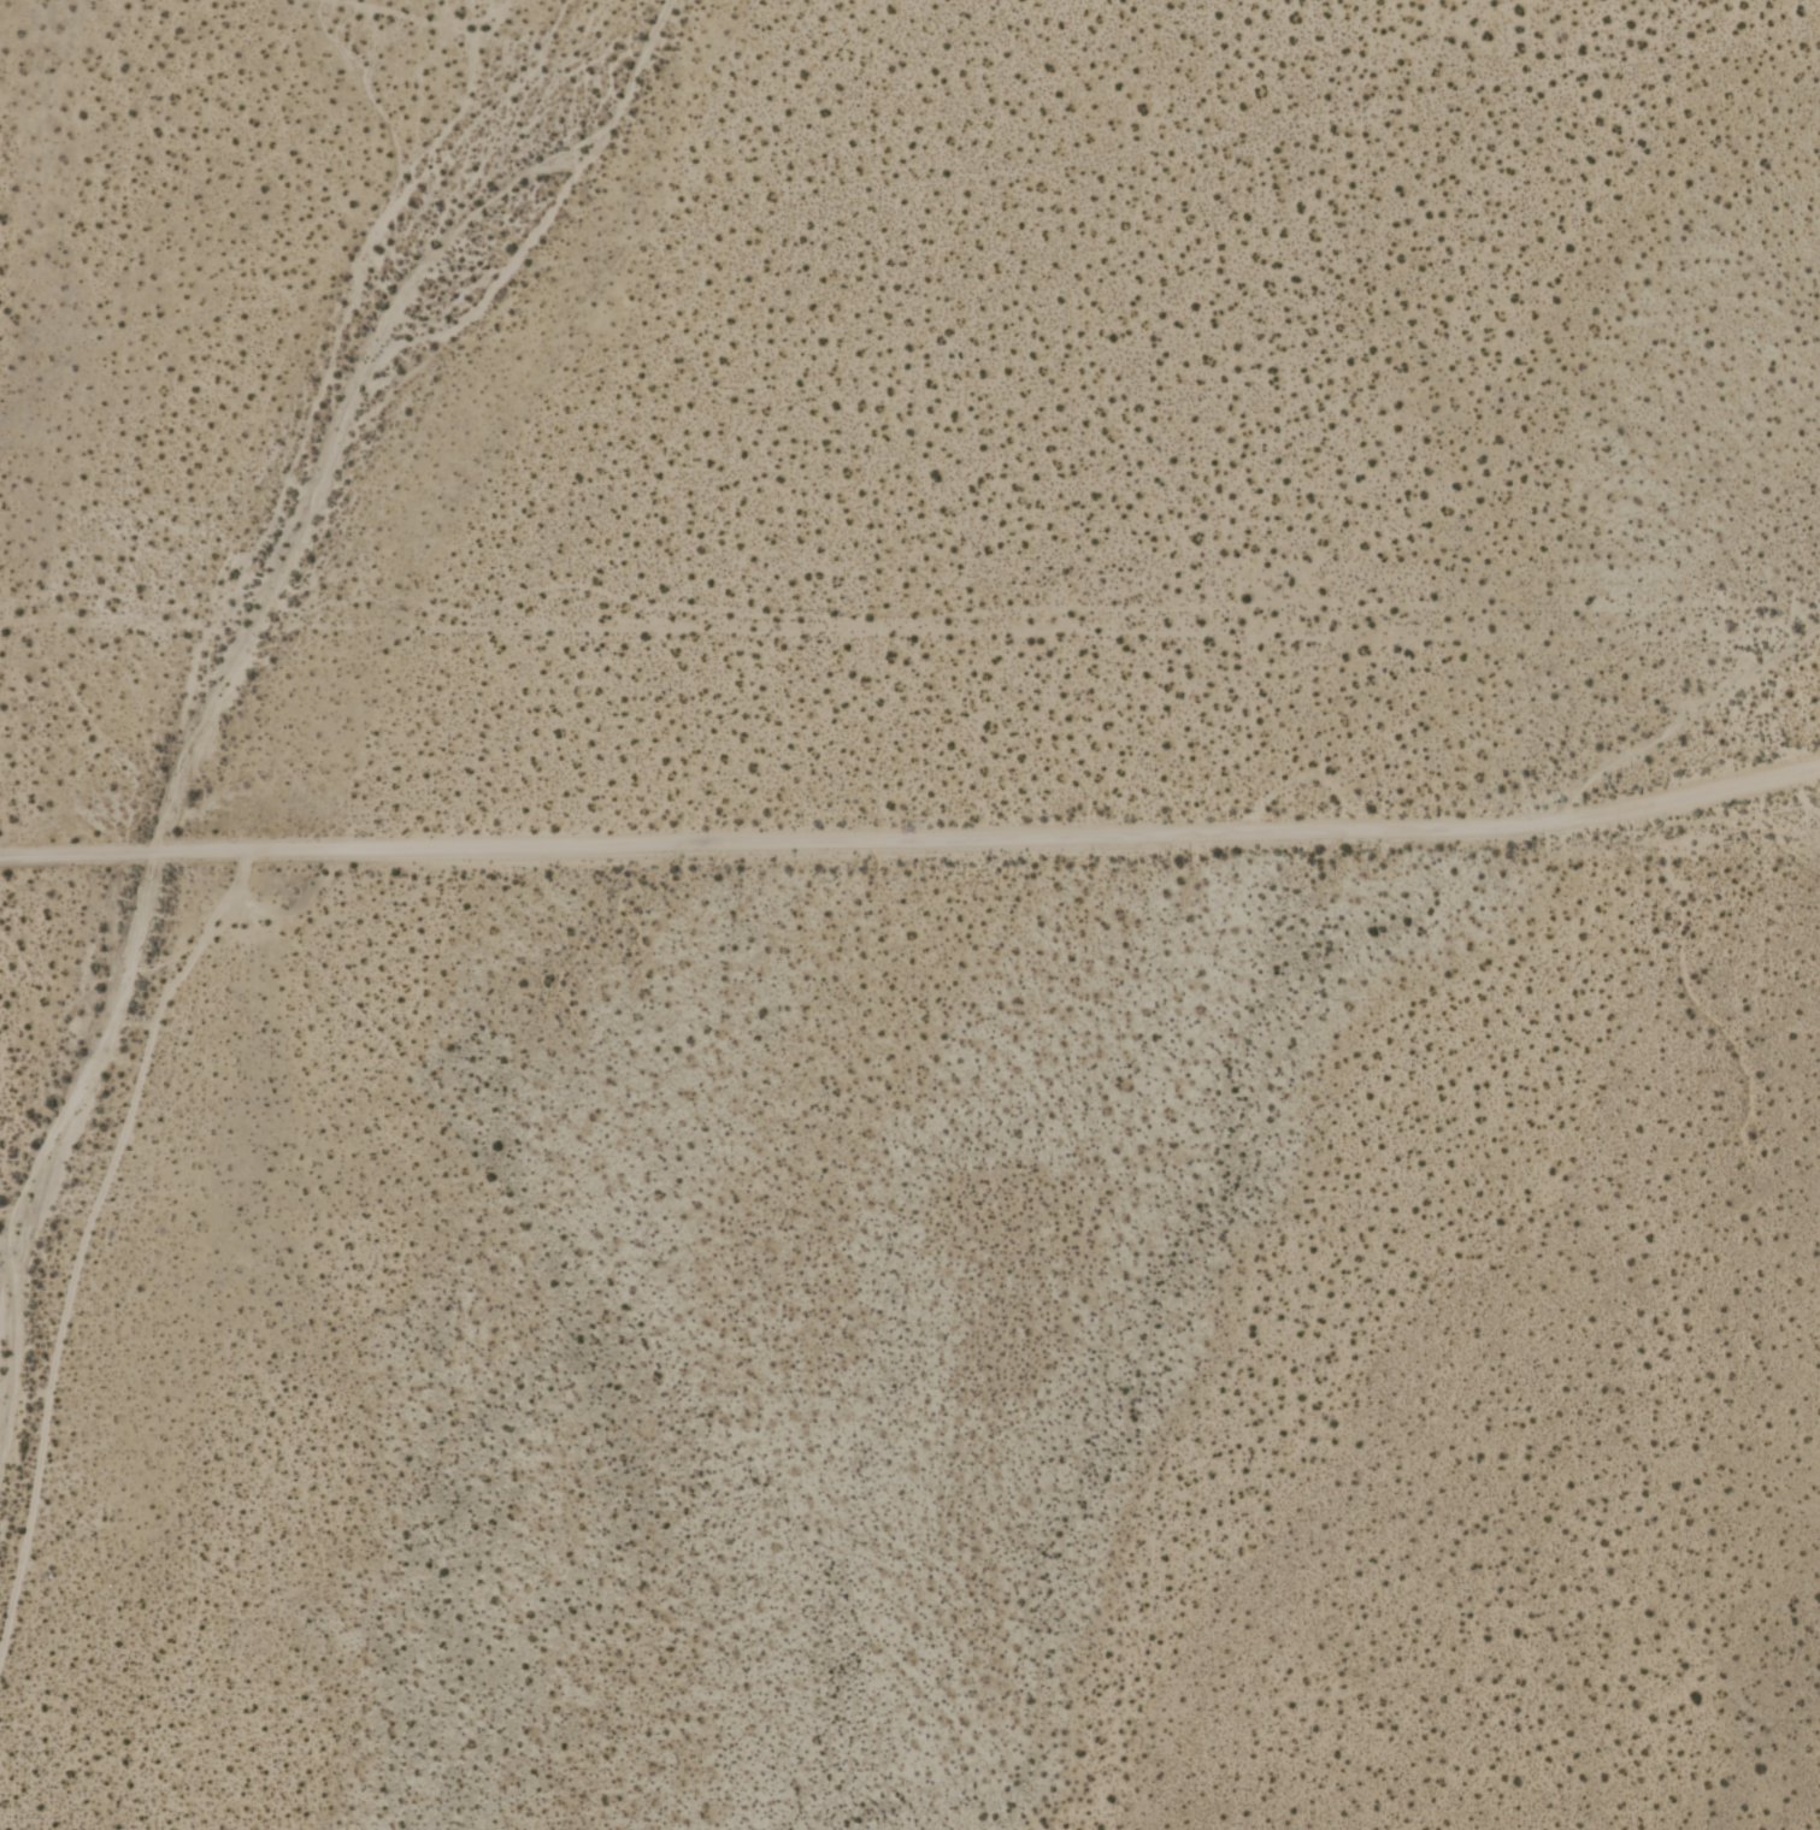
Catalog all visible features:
road: (913, 840)

